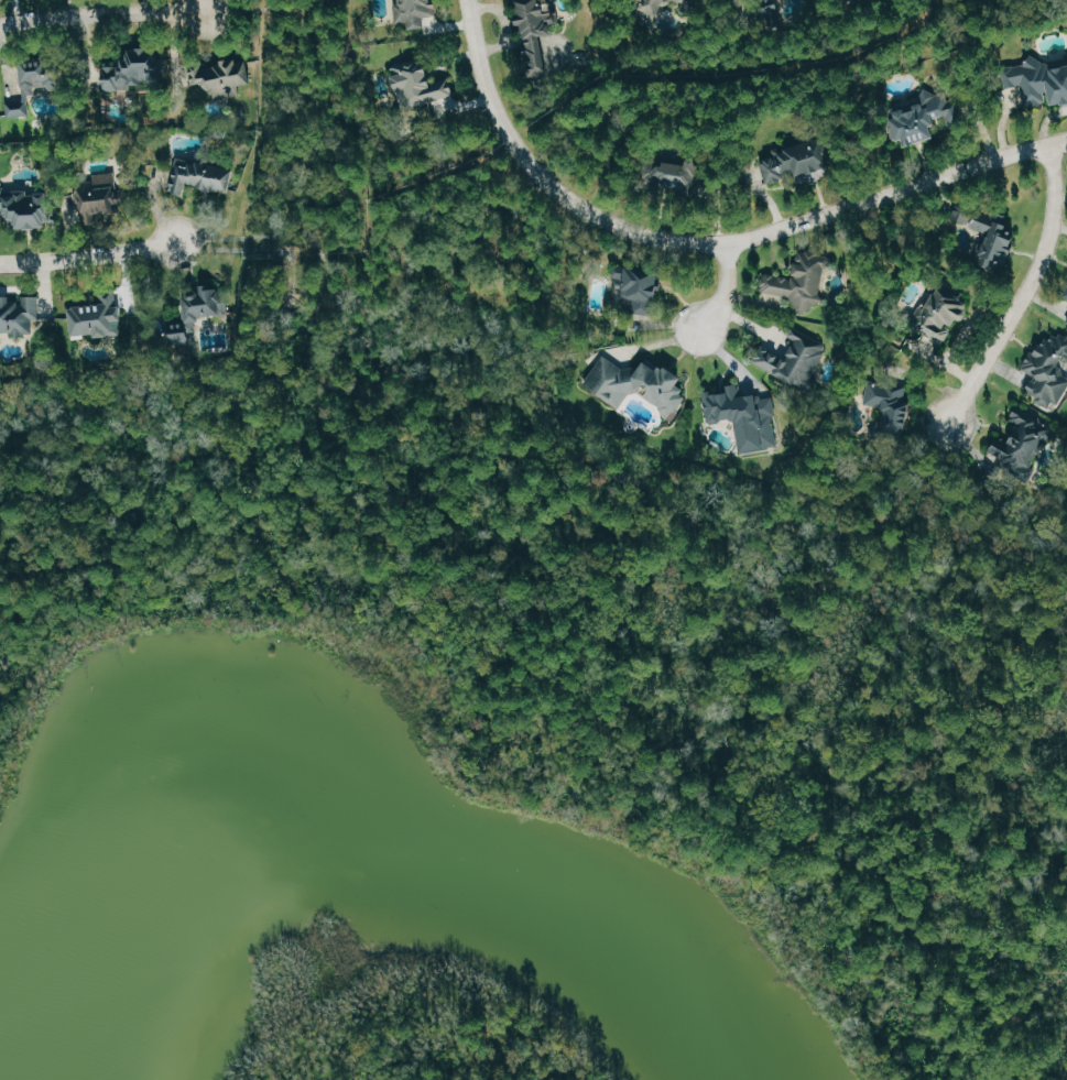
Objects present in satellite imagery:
building: (785, 11)
building: (416, 12)
building: (651, 14)
road: (105, 17)
building: (541, 34)
building: (131, 70)
building: (40, 76)
building: (1043, 83)
building: (425, 88)
building: (19, 107)
road: (614, 108)
building: (924, 119)
building: (799, 162)
building: (678, 174)
building: (202, 176)
building: (102, 196)
building: (28, 208)
road: (238, 234)
building: (991, 237)
road: (706, 241)
road: (254, 249)
road: (86, 255)
building: (802, 282)
road: (727, 286)
road: (1026, 288)
building: (645, 291)
building: (945, 313)
building: (199, 314)
building: (19, 315)
building: (97, 318)
road: (283, 340)
road: (657, 346)
building: (806, 358)
building: (1049, 370)
building: (640, 383)
building: (892, 408)
building: (747, 416)
building: (1025, 444)
road: (634, 481)

